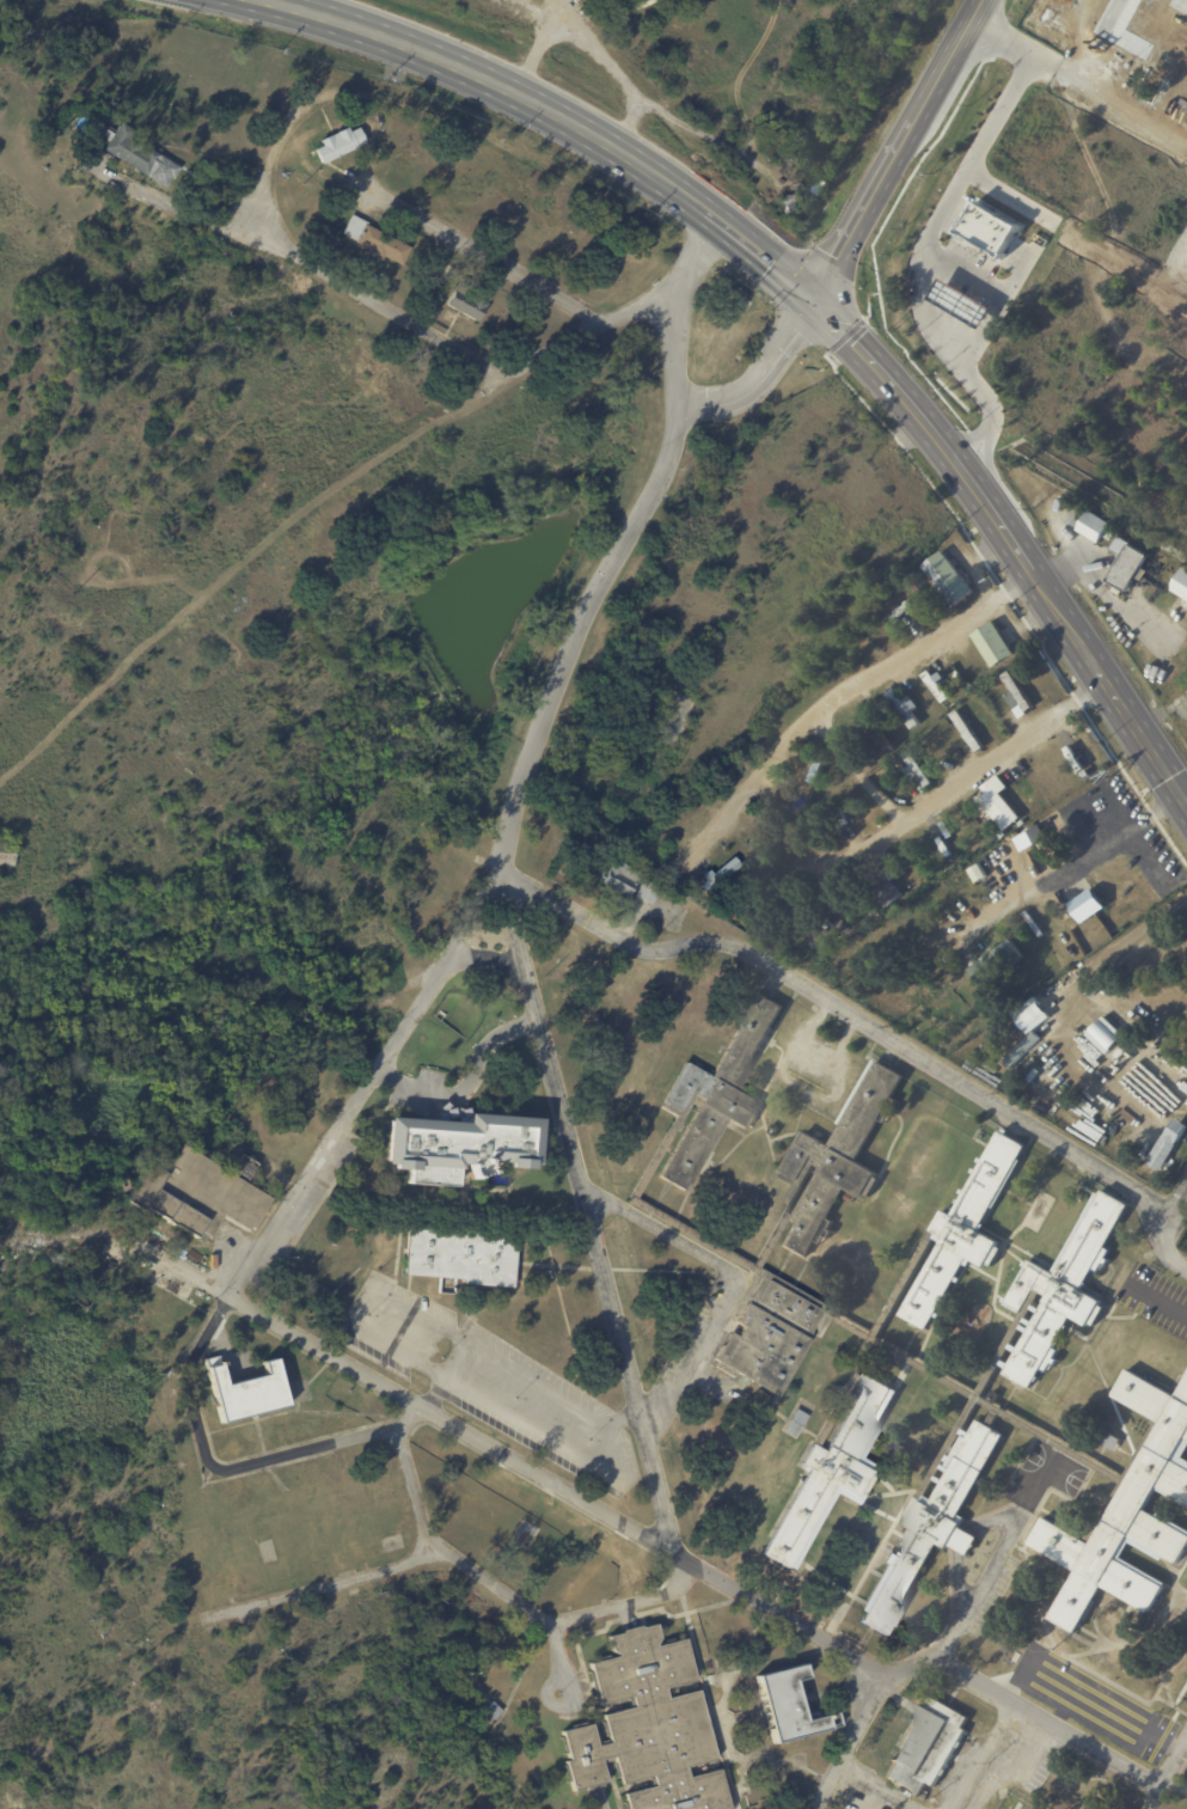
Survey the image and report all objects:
road: (537, 48)
building: (851, 50)
road: (936, 78)
road: (1083, 81)
road: (492, 84)
road: (626, 122)
road: (712, 137)
building: (339, 145)
building: (769, 151)
building: (134, 153)
building: (796, 206)
road: (853, 228)
building: (989, 228)
road: (932, 230)
building: (328, 233)
building: (373, 239)
road: (765, 252)
road: (483, 255)
road: (998, 292)
traffic signals: (814, 299)
building: (469, 304)
road: (390, 308)
road: (856, 343)
road: (758, 369)
building: (1089, 526)
road: (1064, 537)
building: (1127, 564)
building: (947, 580)
building: (1181, 586)
road: (1100, 588)
road: (1044, 595)
building: (898, 609)
building: (992, 644)
building: (935, 685)
building: (1015, 692)
road: (840, 701)
building: (905, 708)
building: (877, 728)
building: (966, 731)
building: (1076, 758)
building: (914, 769)
road: (524, 774)
road: (858, 774)
road: (967, 778)
building: (809, 784)
building: (999, 784)
building: (997, 807)
building: (845, 824)
building: (753, 838)
building: (942, 844)
building: (7, 852)
road: (1067, 863)
building: (717, 875)
building: (617, 880)
building: (888, 887)
building: (645, 893)
building: (1085, 906)
building: (746, 909)
building: (871, 913)
building: (928, 916)
building: (828, 935)
building: (1148, 960)
building: (996, 964)
road: (1072, 995)
road: (846, 1010)
building: (1105, 1034)
building: (1016, 1052)
road: (812, 1057)
road: (467, 1081)
building: (1036, 1083)
building: (717, 1093)
building: (1090, 1094)
building: (1071, 1118)
building: (1167, 1143)
building: (463, 1148)
building: (838, 1163)
building: (196, 1193)
road: (1176, 1211)
road: (588, 1216)
building: (966, 1234)
road: (1168, 1252)
building: (458, 1255)
road: (729, 1277)
building: (2, 1282)
building: (1060, 1296)
road: (1170, 1306)
building: (769, 1336)
parking lot: (488, 1383)
road: (538, 1385)
building: (249, 1393)
road: (404, 1416)
road: (624, 1418)
building: (791, 1424)
road: (387, 1429)
building: (1110, 1443)
road: (1045, 1463)
building: (831, 1473)
road: (1063, 1474)
road: (1030, 1487)
building: (1130, 1509)
building: (934, 1527)
road: (669, 1550)
road: (999, 1558)
road: (856, 1585)
road: (516, 1602)
road: (625, 1602)
road: (1101, 1705)
road: (1066, 1707)
building: (785, 1709)
building: (489, 1712)
building: (650, 1727)
road: (840, 1740)
building: (926, 1747)
road: (1022, 1780)
road: (875, 1784)
building: (1087, 1807)

